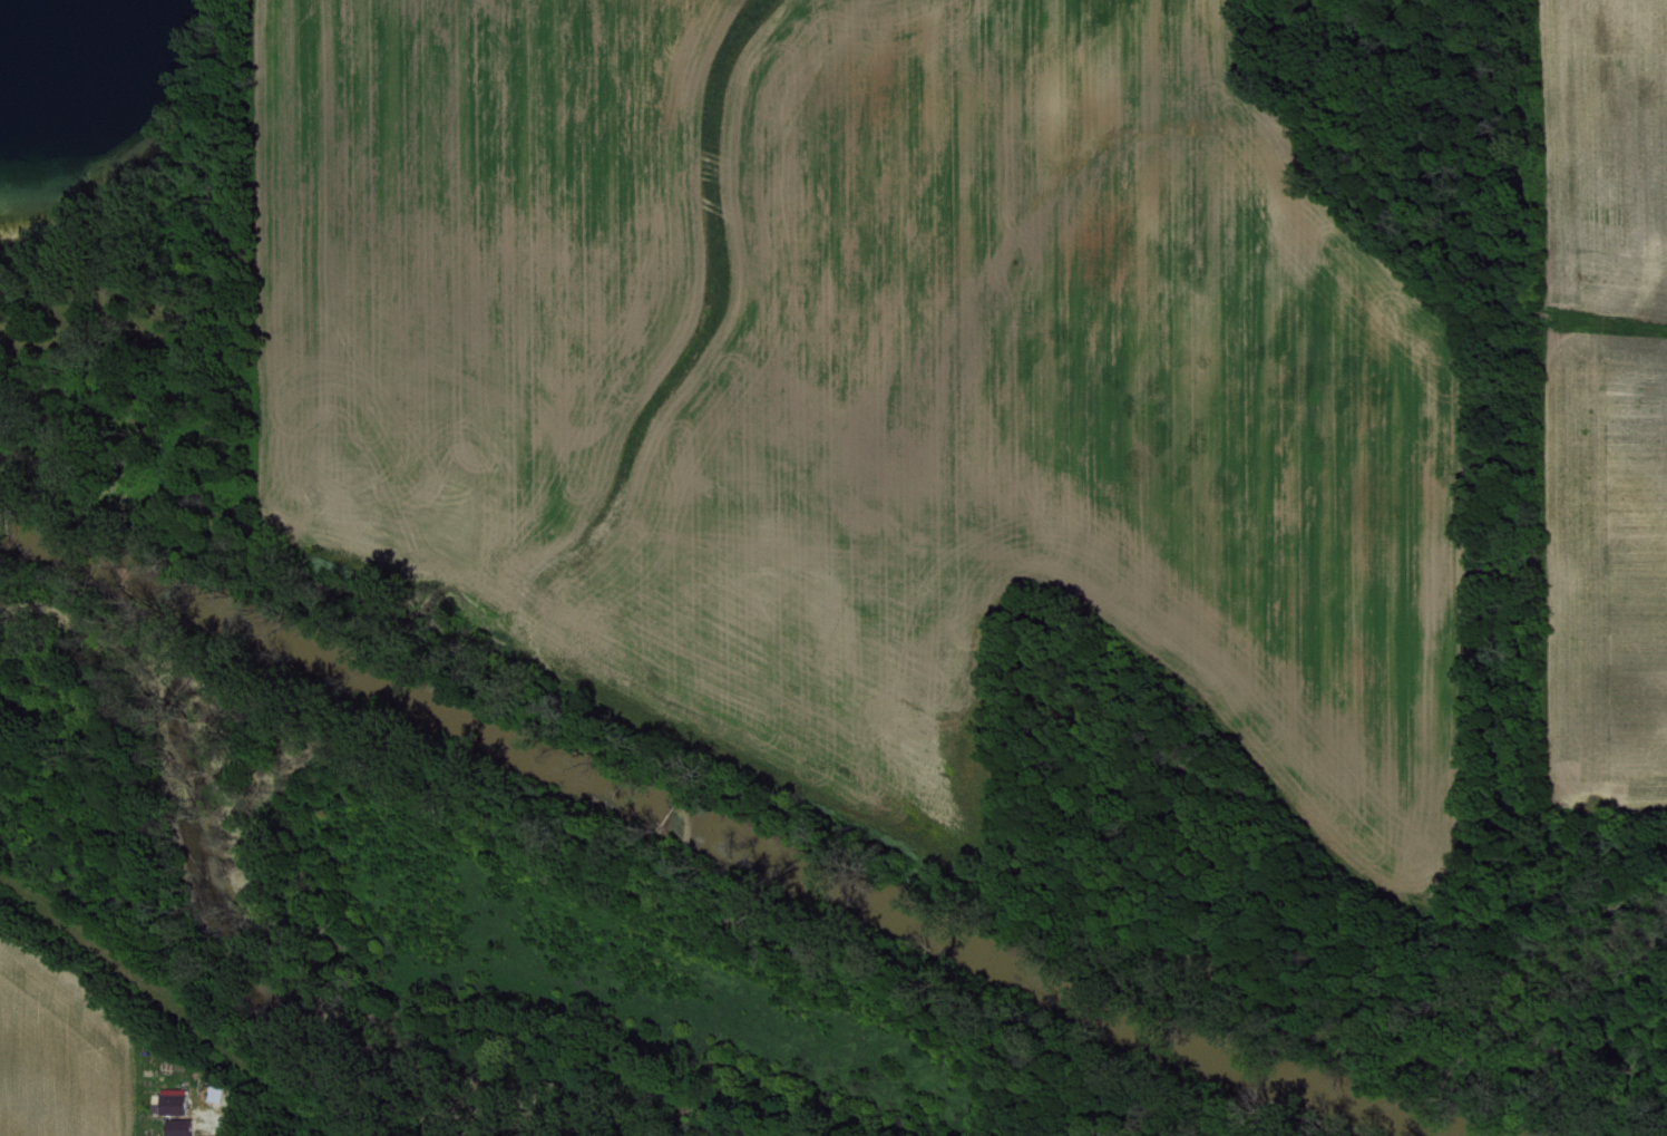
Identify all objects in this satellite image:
building: (170, 1100)
road: (223, 1117)
building: (177, 1126)

